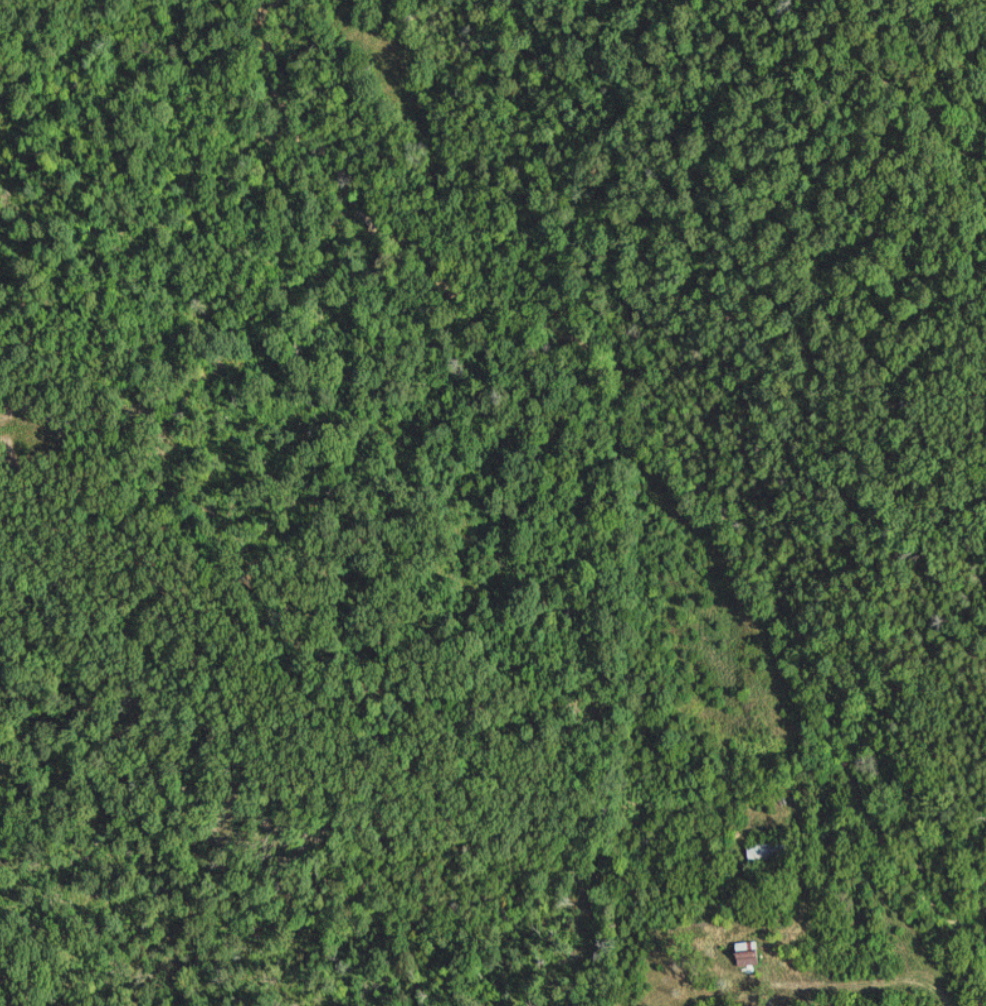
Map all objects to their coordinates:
building: (767, 851)

